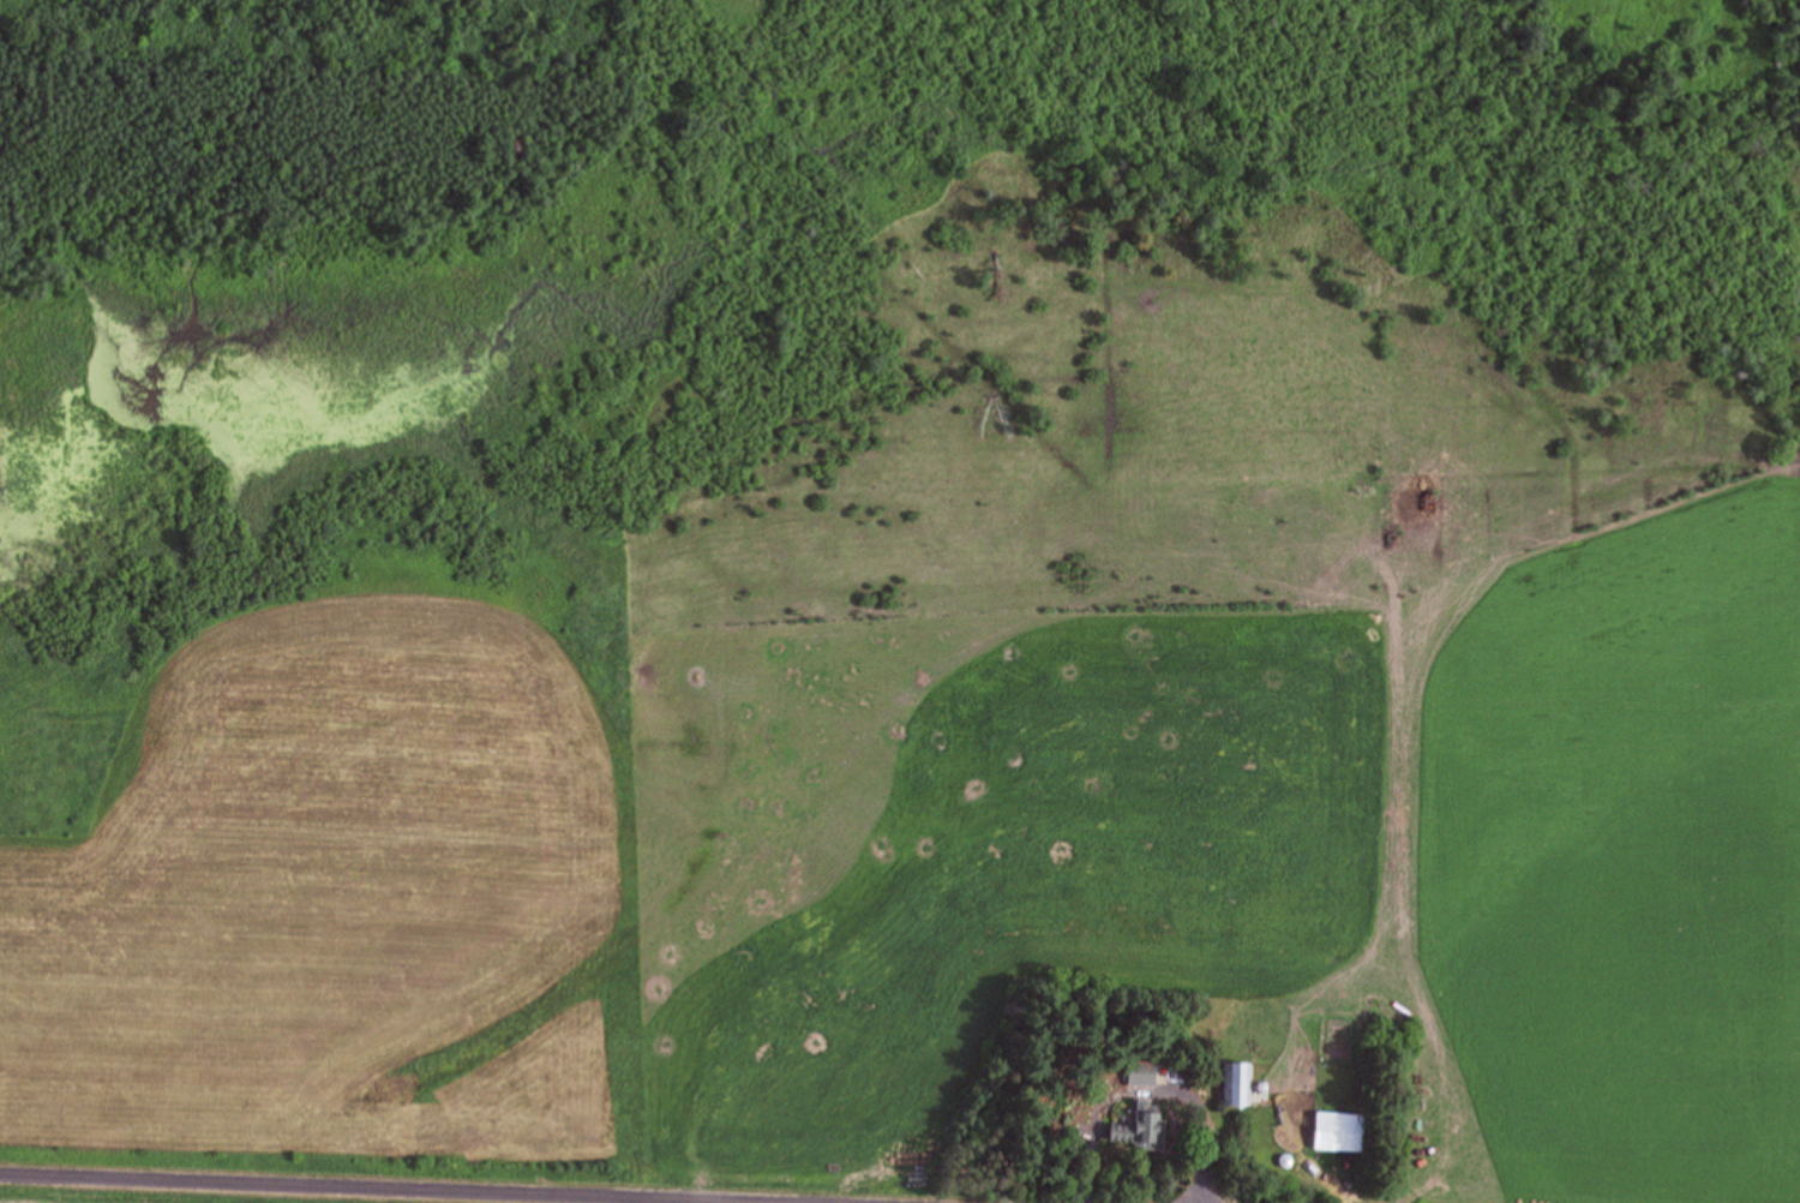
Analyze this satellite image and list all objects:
road: (305, 1192)

